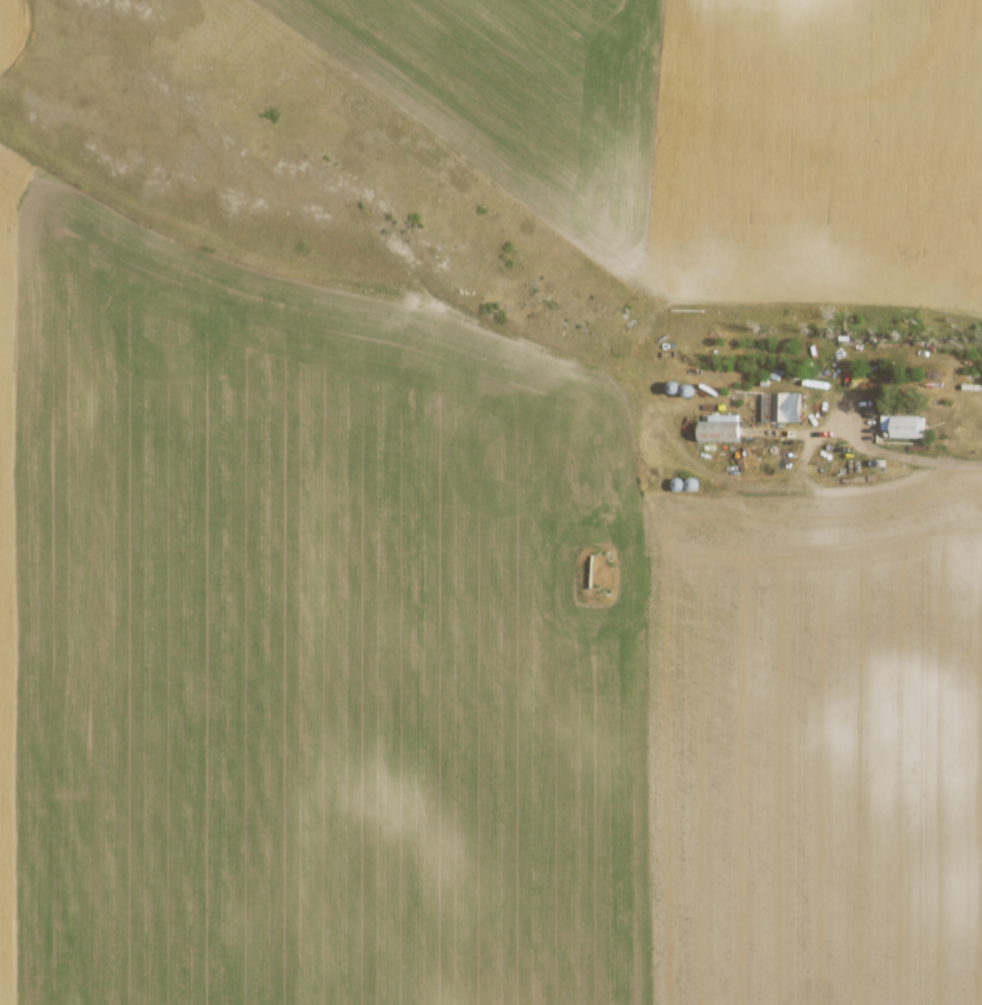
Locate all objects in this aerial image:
building: (780, 406)
building: (902, 426)
building: (718, 427)
road: (921, 457)

